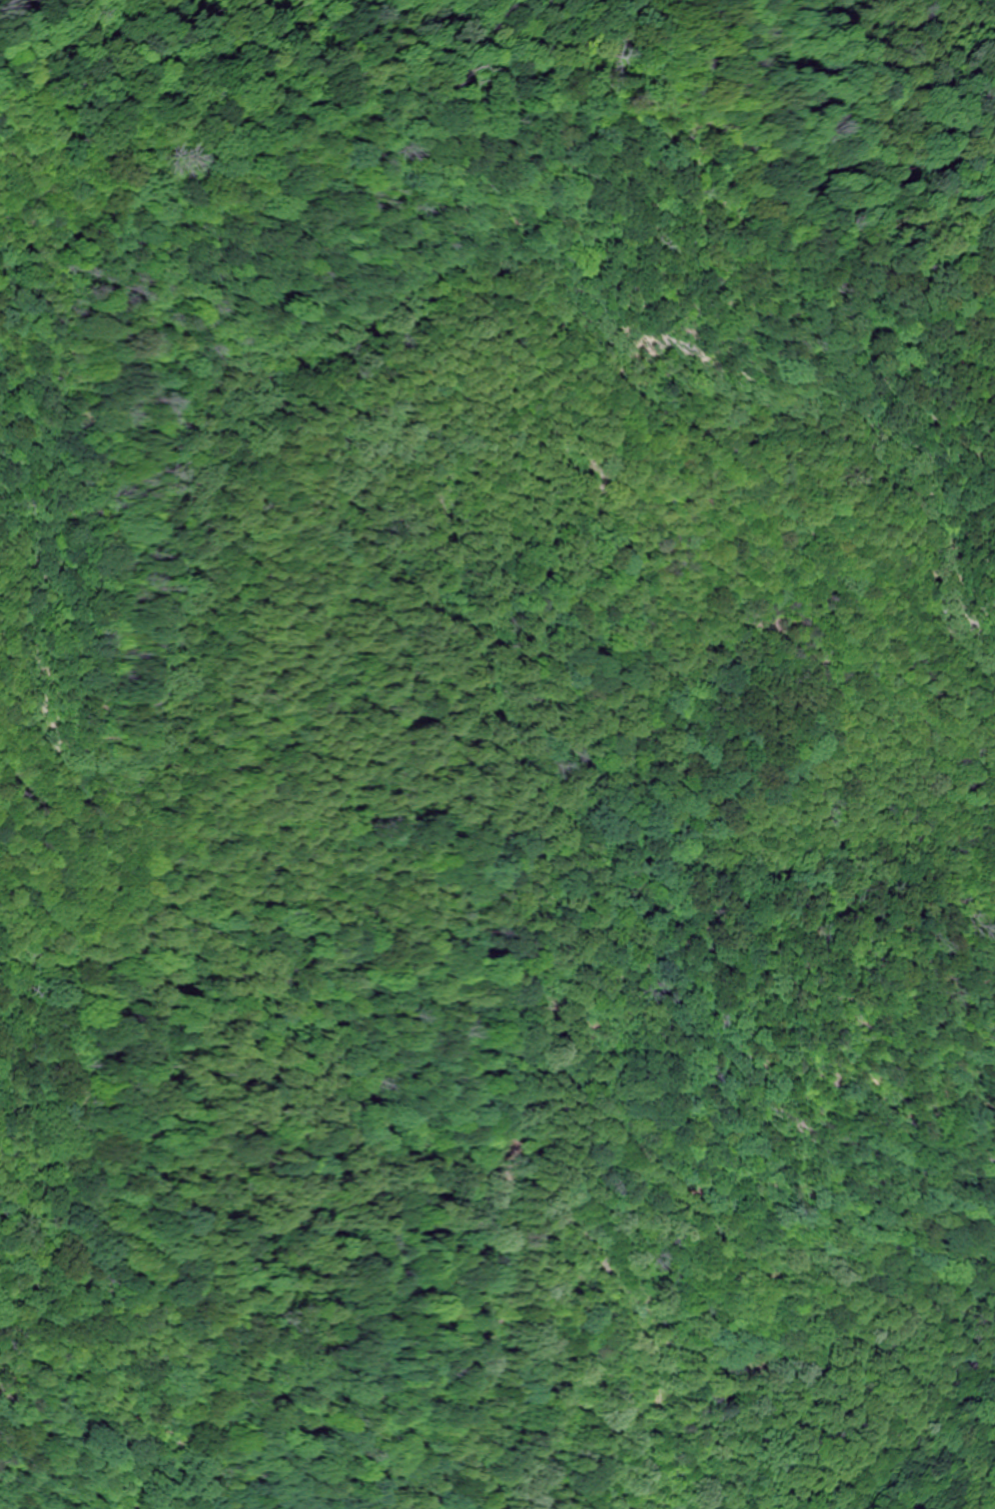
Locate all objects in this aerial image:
road: (584, 1230)

